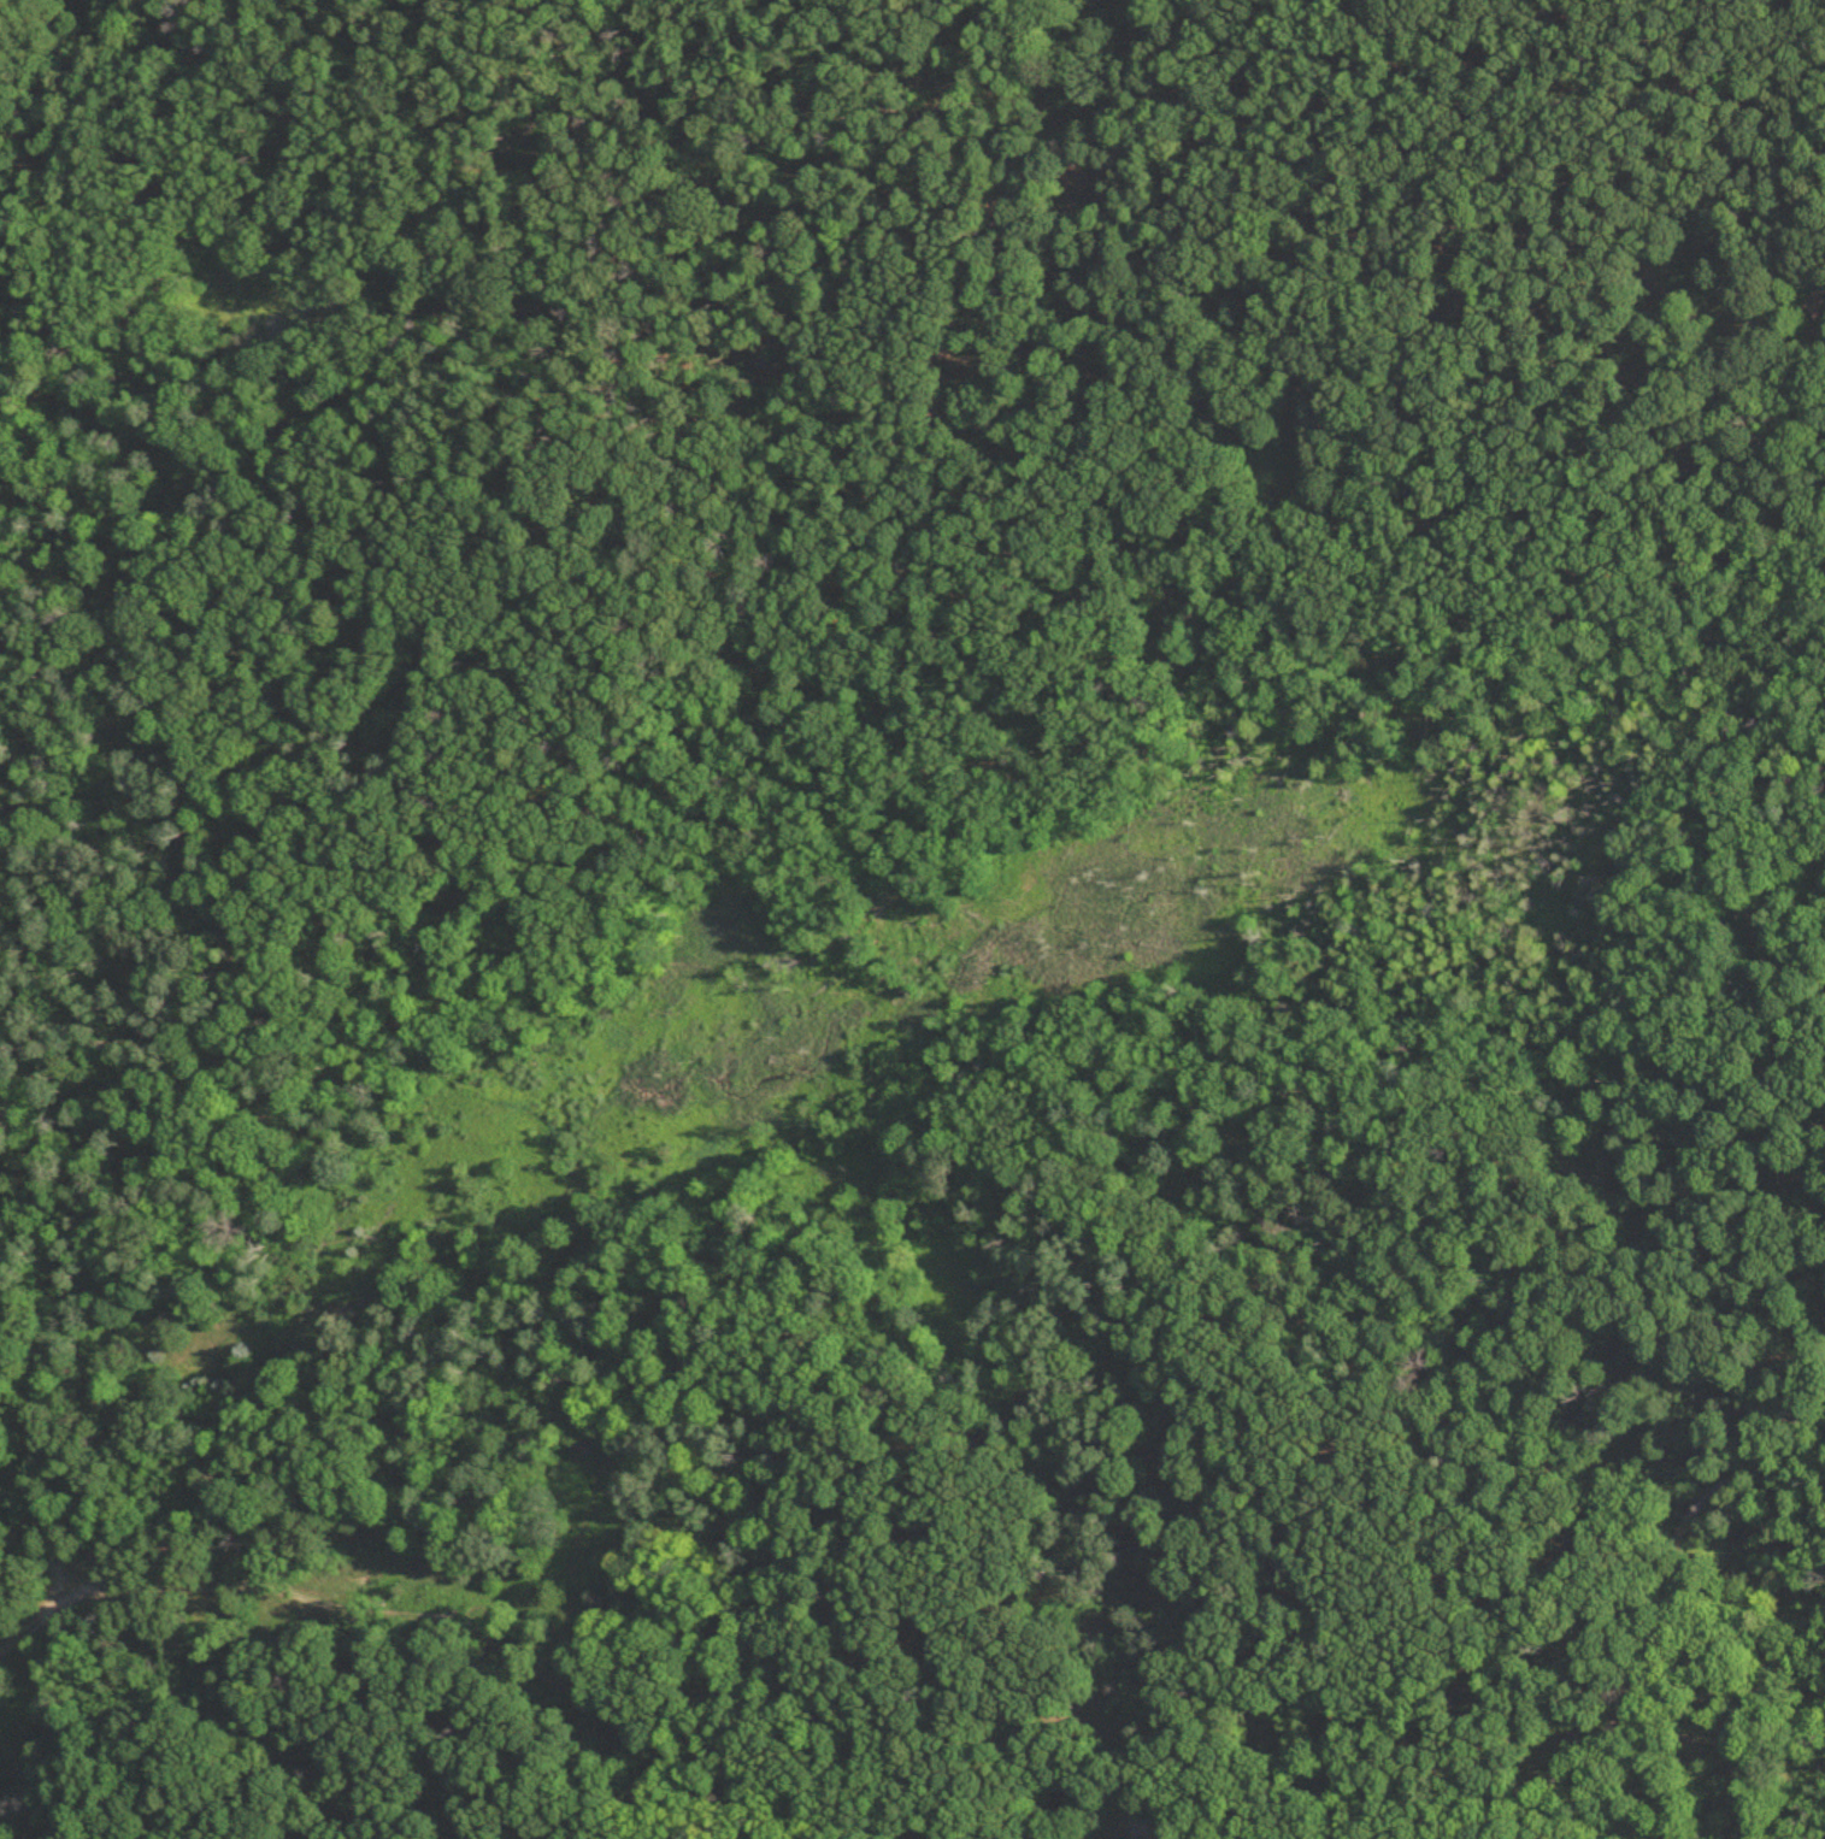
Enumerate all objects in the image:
road: (367, 1610)
road: (1648, 1669)
road: (40, 1725)
road: (2, 1817)

